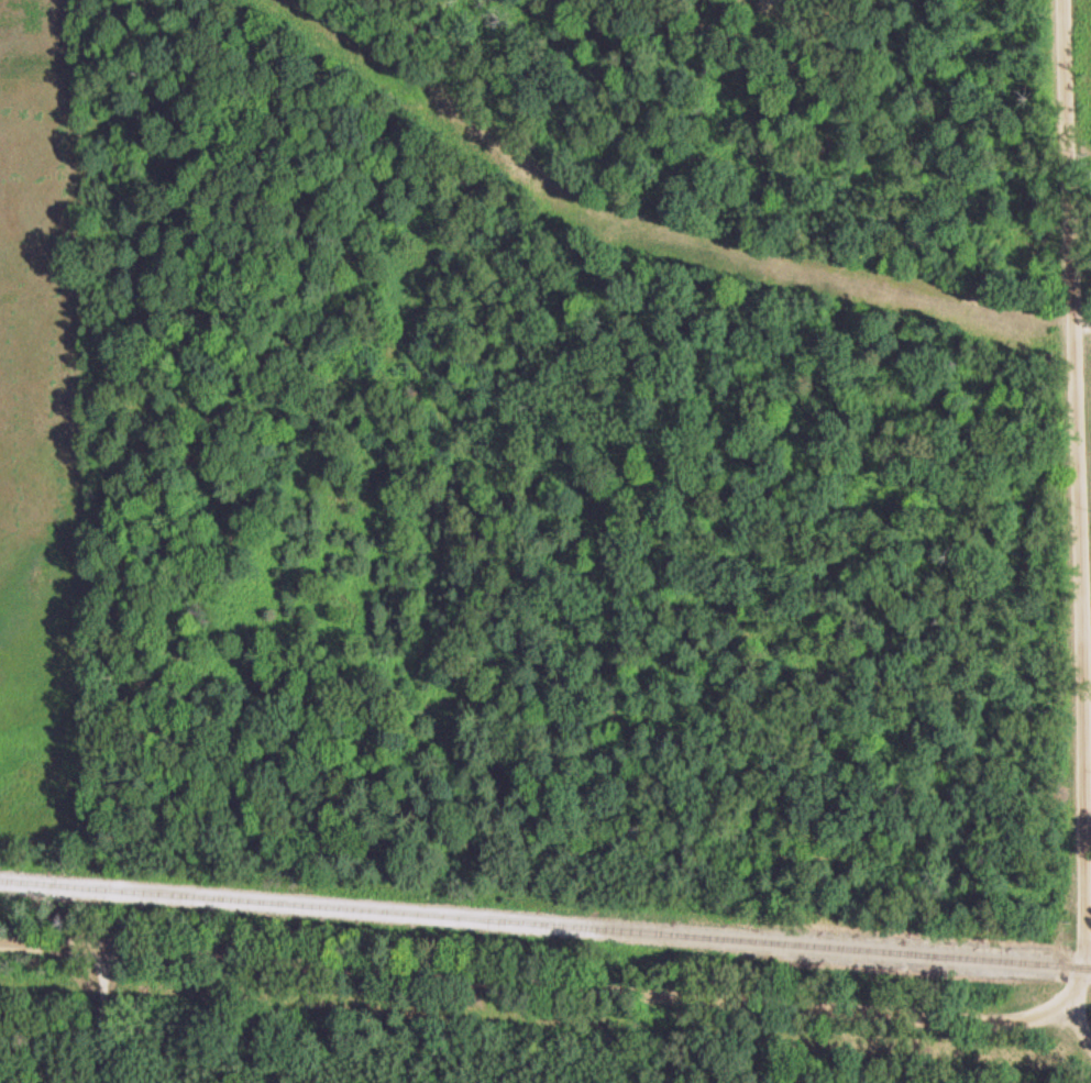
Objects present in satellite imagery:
road: (1076, 406)
road: (1088, 811)
road: (1086, 910)
railway: (545, 925)
road: (533, 984)
road: (70, 1015)
road: (1078, 1016)

